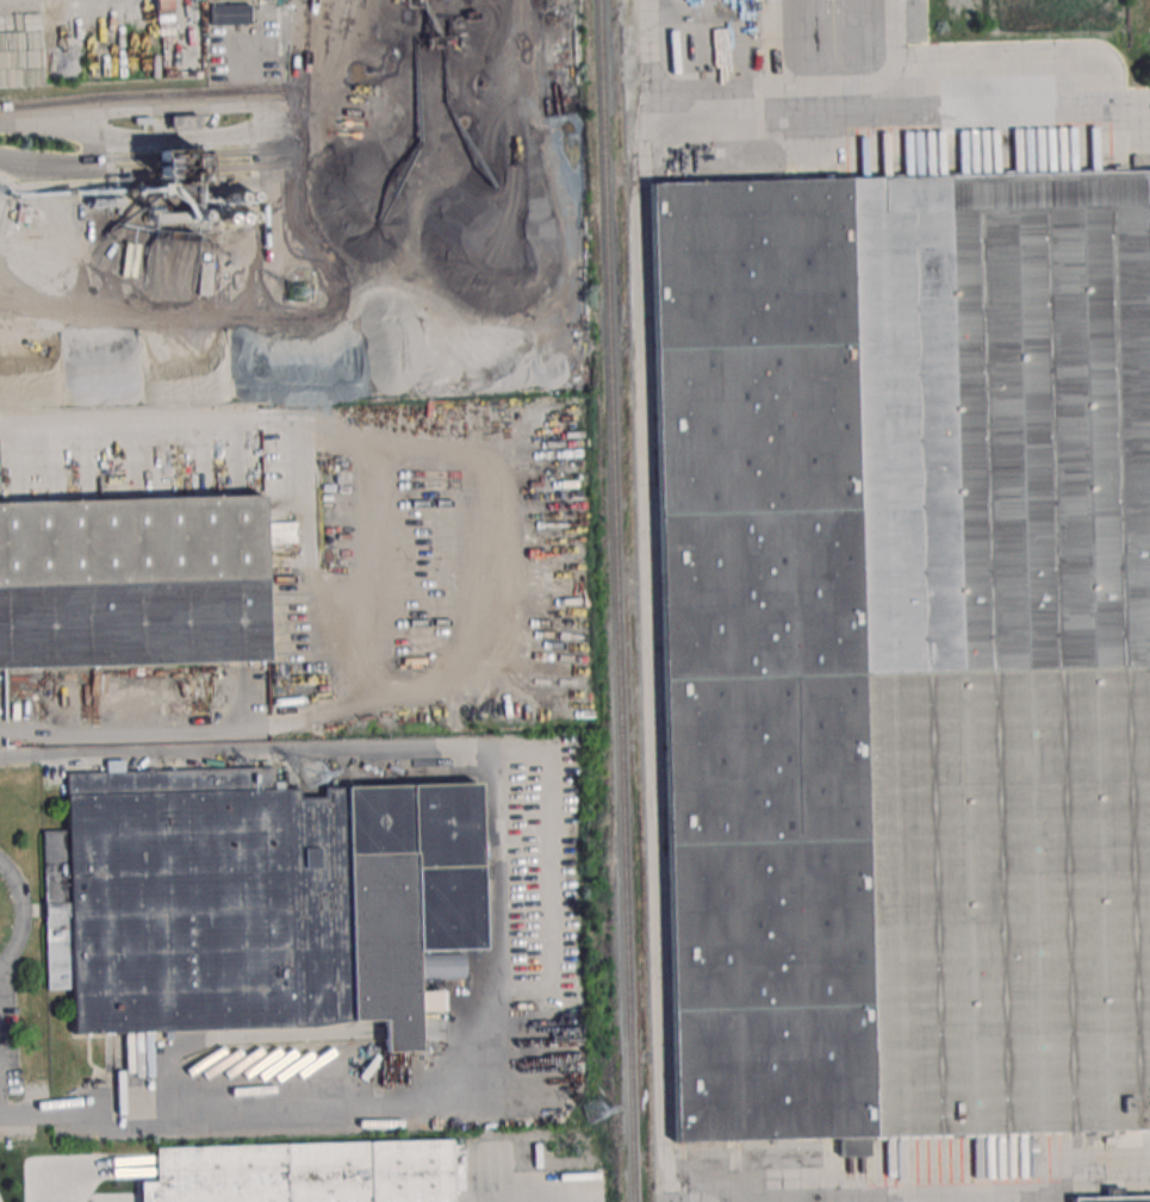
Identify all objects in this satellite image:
building: (230, 13)
road: (648, 58)
road: (964, 80)
road: (69, 101)
power tower: (296, 293)
road: (491, 572)
road: (311, 578)
building: (132, 585)
railway: (626, 600)
building: (905, 648)
road: (18, 755)
power tower: (312, 777)
building: (261, 901)
road: (19, 917)
road: (504, 932)
power tower: (595, 1113)
building: (305, 1172)
building: (1113, 1198)

